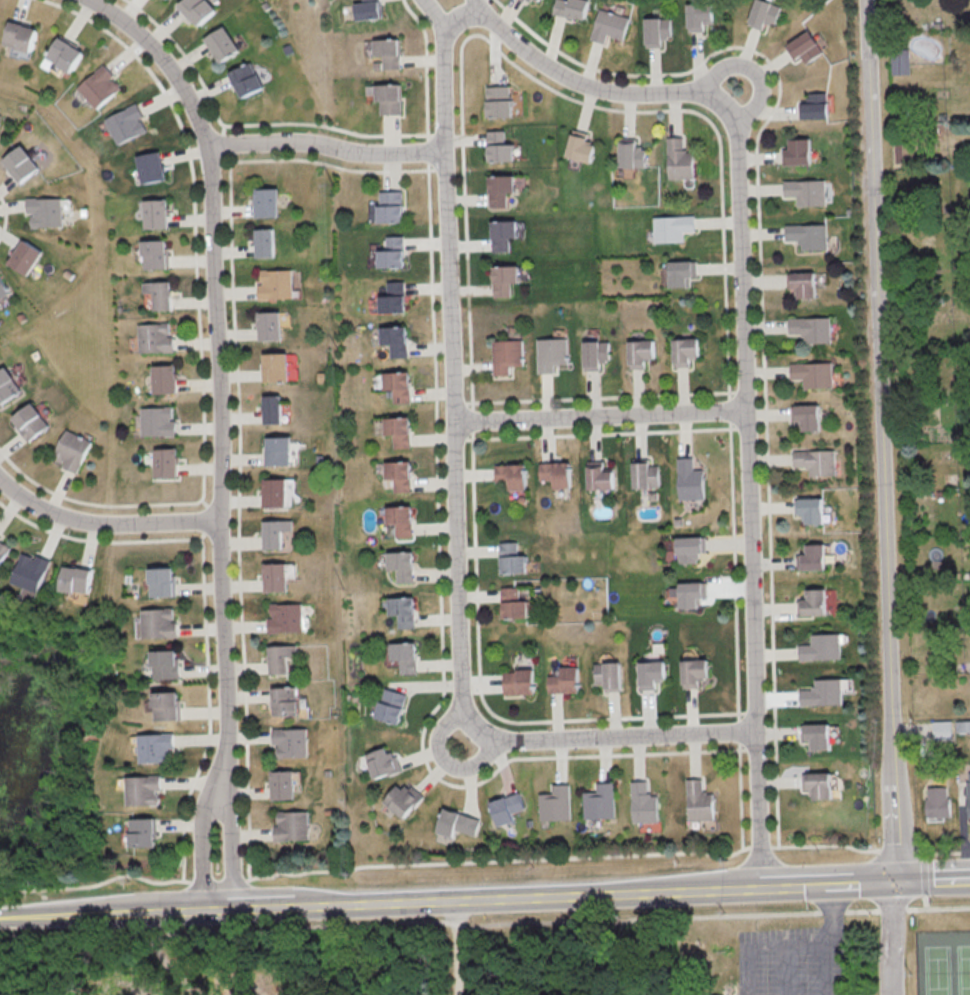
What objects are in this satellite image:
building: (519, 0)
building: (532, 0)
road: (473, 4)
building: (568, 8)
building: (358, 9)
building: (190, 10)
road: (432, 13)
building: (763, 13)
building: (697, 14)
building: (605, 25)
building: (649, 31)
building: (19, 35)
building: (213, 43)
building: (800, 46)
building: (379, 52)
building: (63, 54)
building: (900, 62)
road: (755, 72)
building: (237, 79)
road: (584, 82)
building: (97, 86)
building: (378, 97)
building: (494, 101)
building: (810, 108)
building: (123, 123)
road: (328, 147)
building: (495, 147)
building: (576, 148)
building: (795, 152)
building: (628, 154)
building: (676, 159)
building: (20, 163)
building: (147, 166)
building: (496, 189)
building: (804, 191)
building: (261, 202)
building: (384, 206)
building: (43, 211)
building: (151, 213)
building: (669, 227)
building: (498, 234)
building: (806, 235)
building: (260, 242)
building: (387, 252)
building: (150, 254)
building: (22, 256)
building: (676, 273)
building: (500, 279)
building: (800, 283)
building: (271, 284)
building: (154, 294)
building: (388, 298)
building: (265, 325)
building: (808, 328)
building: (149, 337)
building: (390, 339)
road: (217, 349)
building: (681, 350)
building: (636, 352)
building: (547, 353)
building: (591, 354)
building: (502, 355)
building: (269, 367)
building: (811, 373)
building: (158, 378)
building: (5, 385)
building: (392, 385)
building: (267, 409)
road: (604, 416)
building: (804, 416)
building: (151, 420)
building: (25, 421)
road: (750, 427)
building: (394, 430)
road: (882, 441)
building: (67, 450)
building: (273, 450)
building: (161, 462)
building: (553, 473)
building: (642, 474)
building: (394, 475)
building: (509, 475)
building: (596, 476)
building: (687, 480)
building: (271, 492)
building: (808, 509)
building: (397, 519)
road: (104, 521)
road: (460, 521)
building: (274, 532)
building: (3, 548)
building: (686, 548)
building: (810, 557)
building: (509, 558)
building: (399, 565)
building: (29, 574)
building: (277, 575)
building: (75, 579)
building: (162, 581)
building: (687, 593)
building: (811, 602)
building: (511, 603)
building: (401, 610)
building: (283, 617)
building: (157, 623)
building: (821, 647)
building: (407, 656)
building: (280, 659)
building: (164, 664)
building: (694, 672)
building: (650, 673)
building: (608, 674)
building: (564, 680)
building: (518, 681)
building: (823, 692)
building: (283, 700)
building: (166, 705)
building: (394, 706)
building: (942, 729)
building: (818, 735)
building: (288, 741)
building: (155, 747)
road: (450, 759)
building: (378, 762)
building: (281, 784)
building: (821, 785)
building: (142, 789)
building: (968, 792)
building: (401, 799)
building: (599, 801)
building: (699, 801)
building: (643, 802)
building: (938, 802)
building: (555, 803)
road: (764, 809)
building: (503, 810)
building: (456, 823)
building: (292, 825)
road: (206, 828)
road: (234, 830)
building: (143, 832)
road: (656, 853)
road: (485, 900)
road: (924, 901)
road: (936, 907)
road: (871, 909)
road: (826, 911)
road: (625, 918)
road: (894, 938)
road: (791, 947)
road: (456, 948)
parking lot: (796, 960)
park: (966, 969)
park: (943, 970)
road: (824, 971)
building: (719, 994)

